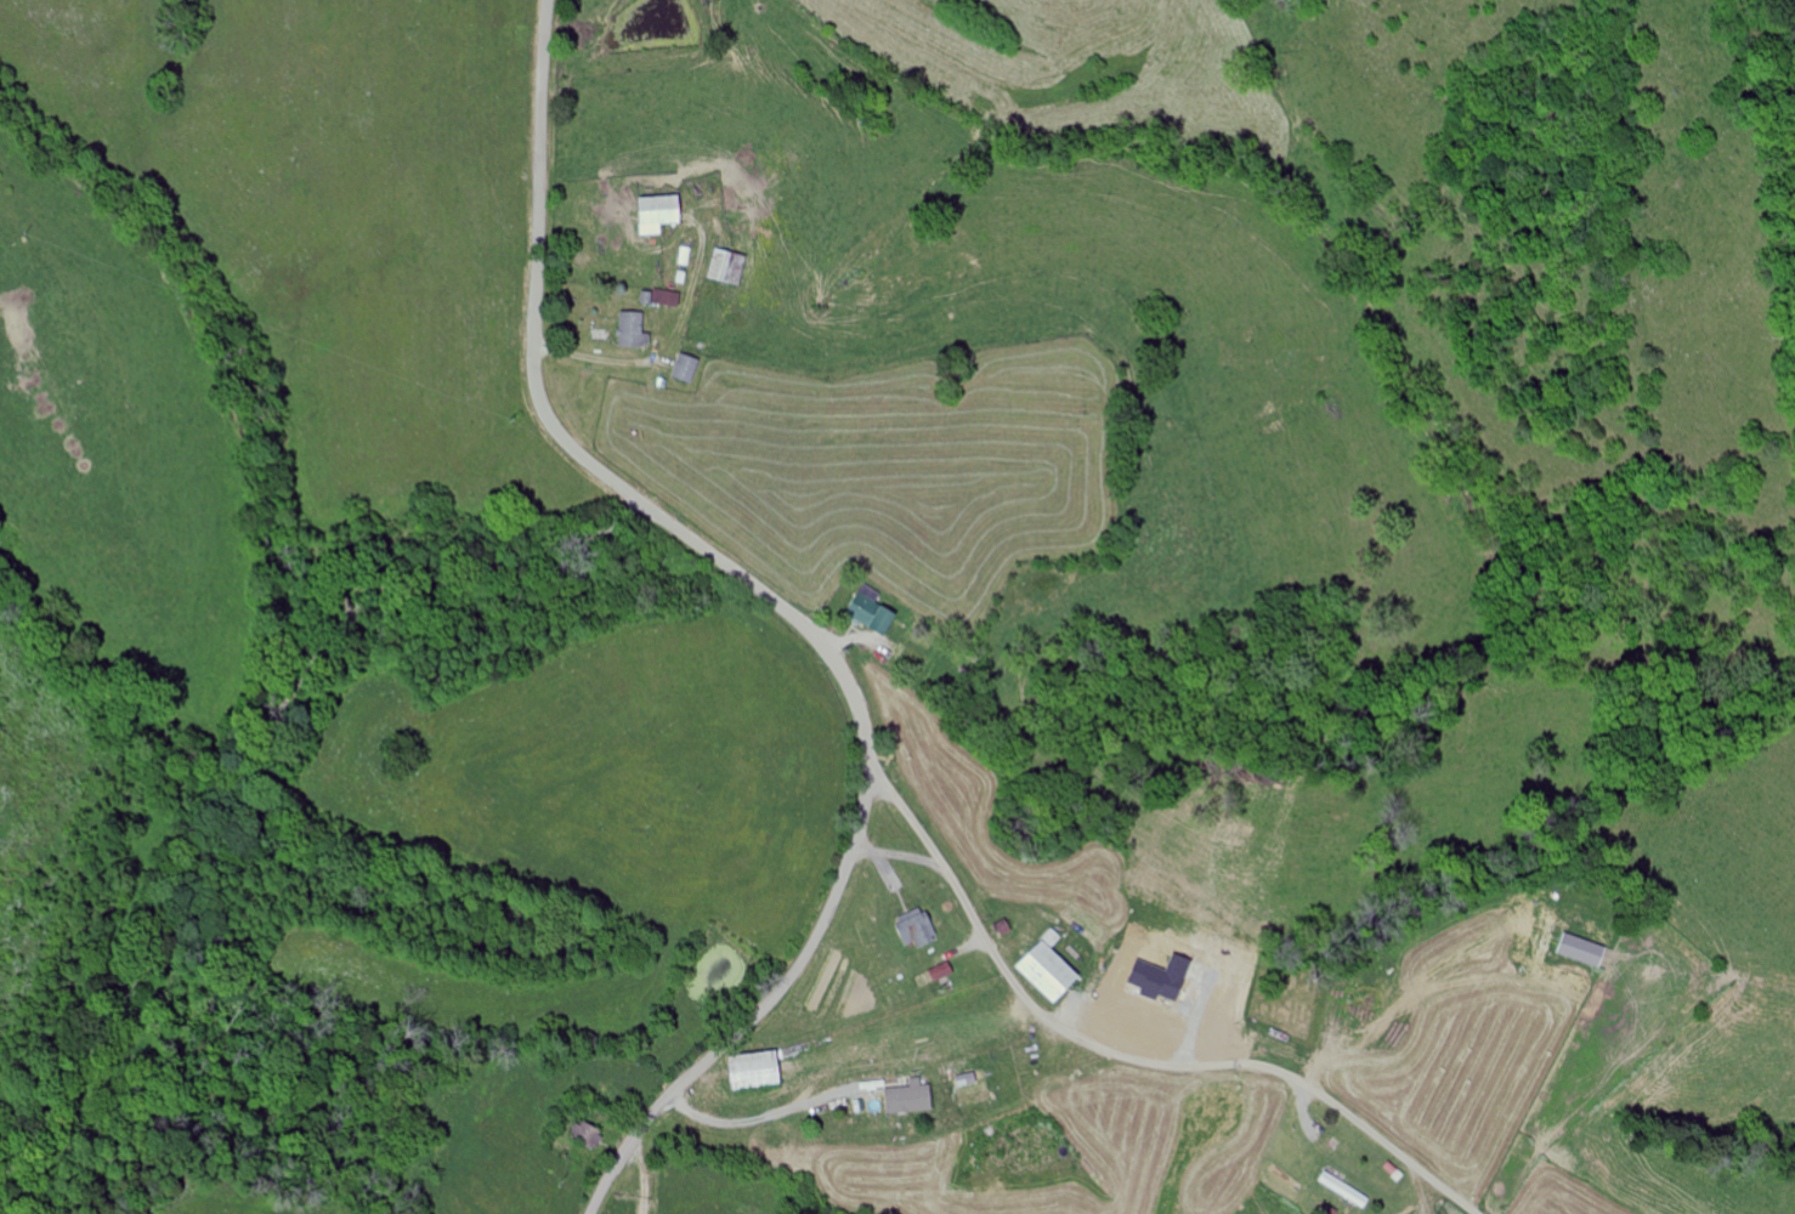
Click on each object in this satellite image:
building: (663, 214)
building: (687, 256)
building: (730, 267)
building: (635, 330)
building: (689, 369)
road: (782, 611)
building: (874, 614)
road: (256, 764)
building: (918, 930)
building: (1586, 952)
building: (1053, 971)
building: (944, 972)
road: (1126, 1055)
building: (760, 1072)
building: (913, 1099)
road: (761, 1119)

